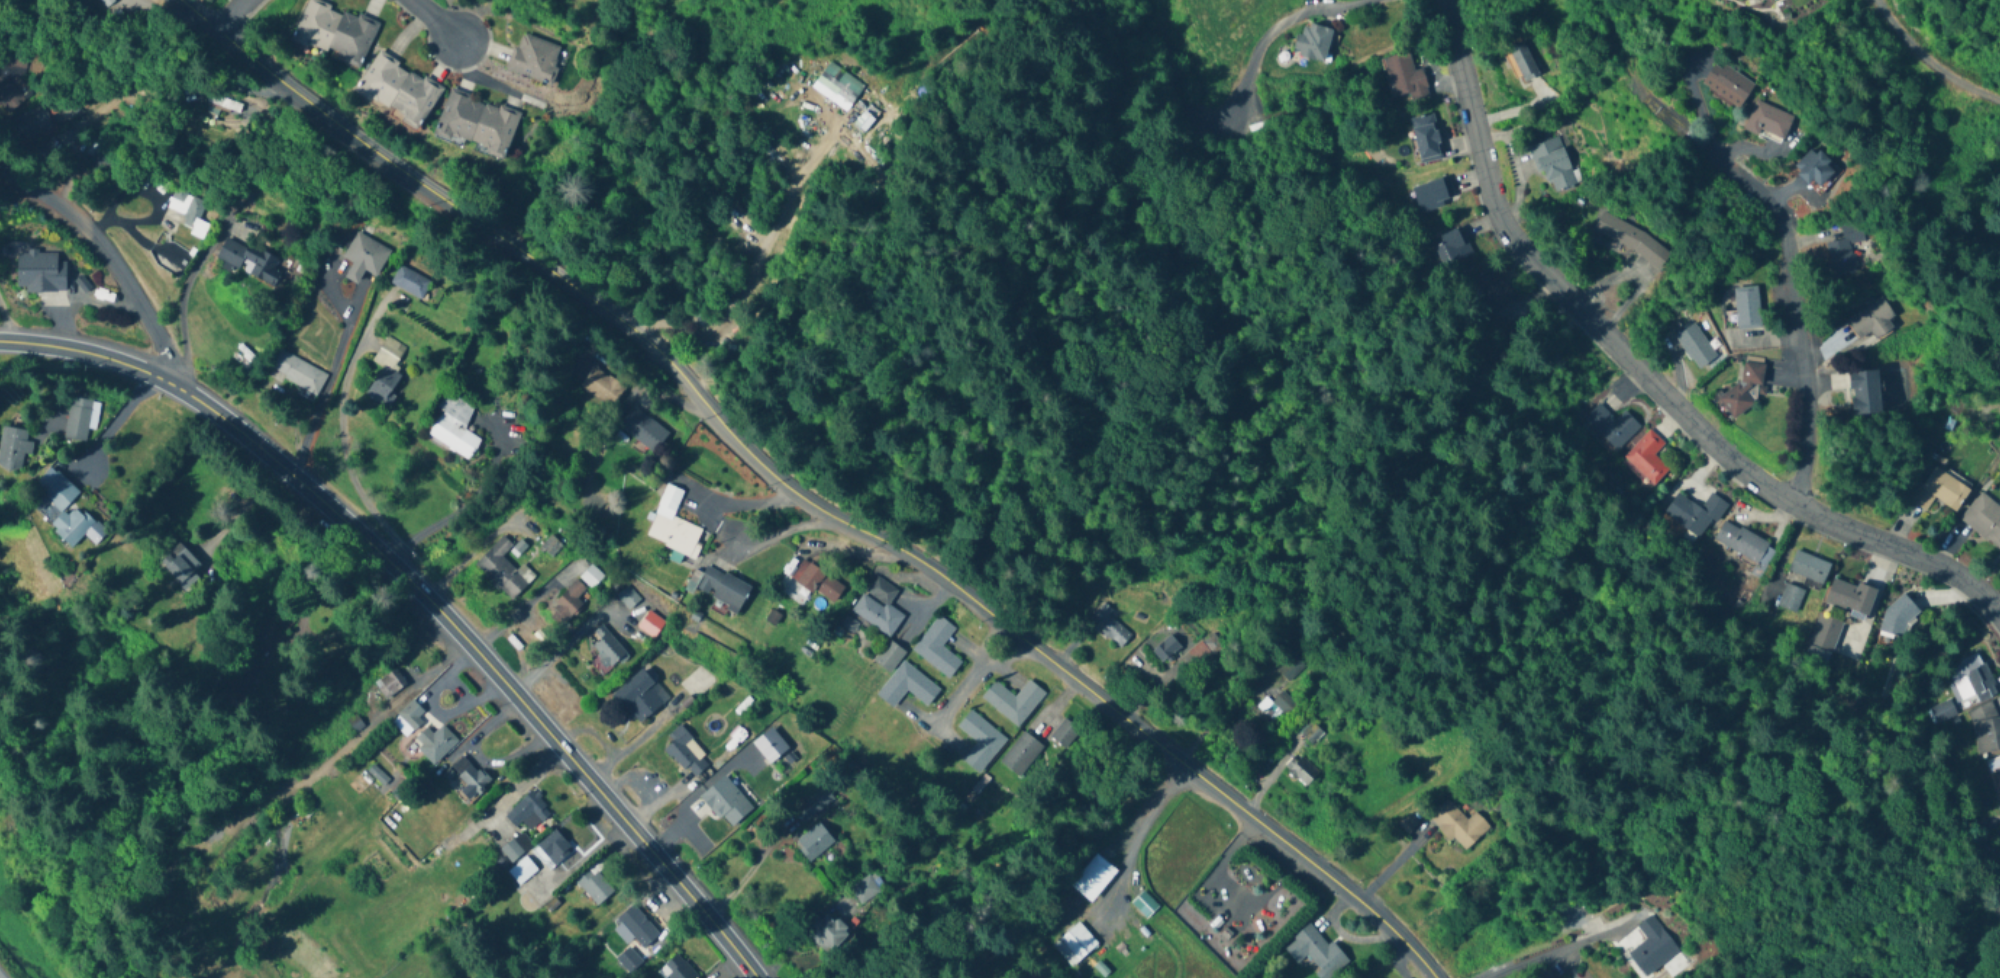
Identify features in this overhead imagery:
building: (1765, 0)
building: (107, 2)
road: (231, 14)
road: (436, 21)
road: (1273, 30)
building: (335, 32)
building: (1314, 43)
building: (535, 58)
building: (1524, 62)
road: (1927, 63)
building: (12, 64)
building: (1406, 78)
building: (1728, 86)
building: (837, 87)
building: (399, 90)
building: (223, 103)
building: (34, 123)
building: (478, 123)
building: (1768, 123)
building: (1426, 139)
building: (104, 158)
building: (1554, 166)
building: (1815, 169)
building: (1433, 195)
building: (194, 218)
building: (1631, 240)
building: (1452, 249)
building: (1846, 252)
building: (364, 258)
road: (114, 259)
building: (249, 262)
building: (40, 272)
road: (757, 272)
road: (1793, 279)
building: (409, 282)
building: (1492, 292)
building: (1748, 309)
road: (175, 318)
building: (1872, 321)
road: (3, 331)
building: (1696, 348)
building: (297, 372)
road: (1642, 373)
building: (595, 381)
building: (385, 385)
road: (321, 386)
building: (1866, 391)
building: (1743, 392)
building: (79, 418)
road: (113, 421)
building: (454, 426)
building: (1612, 426)
building: (643, 429)
road: (343, 445)
building: (13, 448)
building: (1646, 458)
building: (1945, 487)
road: (806, 499)
road: (236, 505)
road: (454, 506)
building: (61, 507)
building: (1694, 512)
building: (1984, 519)
building: (672, 525)
road: (722, 527)
building: (1745, 545)
building: (550, 546)
road: (458, 558)
building: (179, 563)
building: (1809, 566)
building: (503, 569)
building: (590, 576)
building: (815, 580)
building: (722, 587)
road: (323, 590)
road: (419, 597)
building: (1850, 597)
building: (1791, 598)
building: (569, 600)
building: (878, 606)
building: (1900, 616)
building: (1105, 625)
building: (1825, 633)
building: (607, 647)
building: (937, 647)
building: (1165, 649)
road: (554, 654)
building: (888, 656)
building: (1204, 656)
road: (992, 657)
building: (1287, 666)
building: (241, 678)
building: (1972, 680)
building: (389, 684)
building: (906, 686)
road: (963, 691)
building: (638, 696)
building: (1013, 701)
building: (1276, 708)
building: (1943, 712)
building: (408, 718)
building: (1986, 728)
building: (1064, 734)
building: (1311, 734)
building: (979, 740)
building: (434, 742)
building: (686, 753)
building: (1021, 754)
building: (1997, 765)
building: (1301, 771)
building: (470, 774)
building: (814, 803)
building: (528, 809)
building: (715, 811)
building: (1458, 825)
road: (1130, 833)
building: (813, 841)
building: (554, 846)
building: (511, 848)
road: (749, 867)
building: (522, 869)
building: (1094, 877)
building: (594, 885)
building: (865, 888)
building: (1144, 905)
building: (828, 931)
building: (1074, 944)
building: (1648, 946)
road: (1550, 949)
building: (1316, 952)
building: (590, 968)
building: (676, 968)
park: (6, 970)
road: (2, 975)

